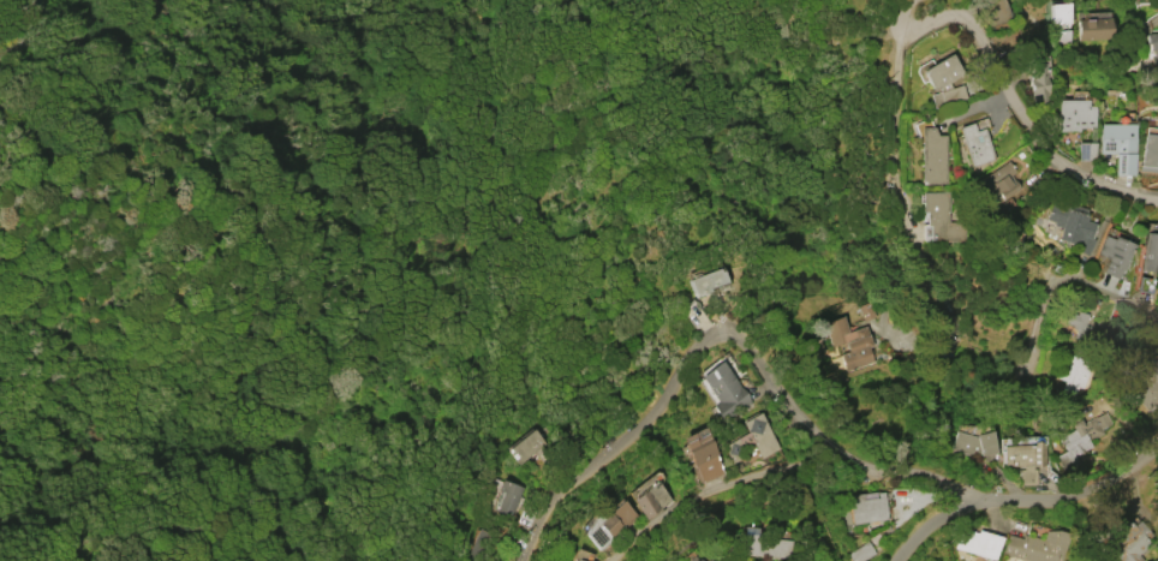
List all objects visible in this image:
building: (992, 11)
road: (900, 16)
building: (1059, 22)
building: (1093, 29)
building: (1153, 44)
building: (1038, 78)
building: (942, 82)
building: (1074, 115)
road: (1017, 118)
building: (974, 144)
building: (1118, 145)
building: (1086, 150)
building: (1150, 150)
building: (931, 156)
road: (895, 175)
building: (998, 183)
building: (941, 217)
building: (1072, 226)
building: (1151, 252)
building: (1114, 255)
building: (704, 281)
road: (1104, 299)
building: (1076, 321)
road: (733, 335)
building: (848, 342)
building: (1074, 374)
building: (1144, 380)
building: (723, 390)
building: (752, 440)
building: (1080, 440)
building: (973, 443)
building: (526, 447)
building: (702, 455)
building: (1025, 460)
road: (720, 487)
building: (507, 497)
building: (650, 500)
road: (1023, 502)
building: (867, 508)
building: (607, 525)
building: (1128, 542)
building: (978, 543)
building: (762, 547)
building: (1035, 547)
building: (862, 553)
building: (700, 559)
building: (577, 560)
building: (696, 560)
building: (706, 560)

